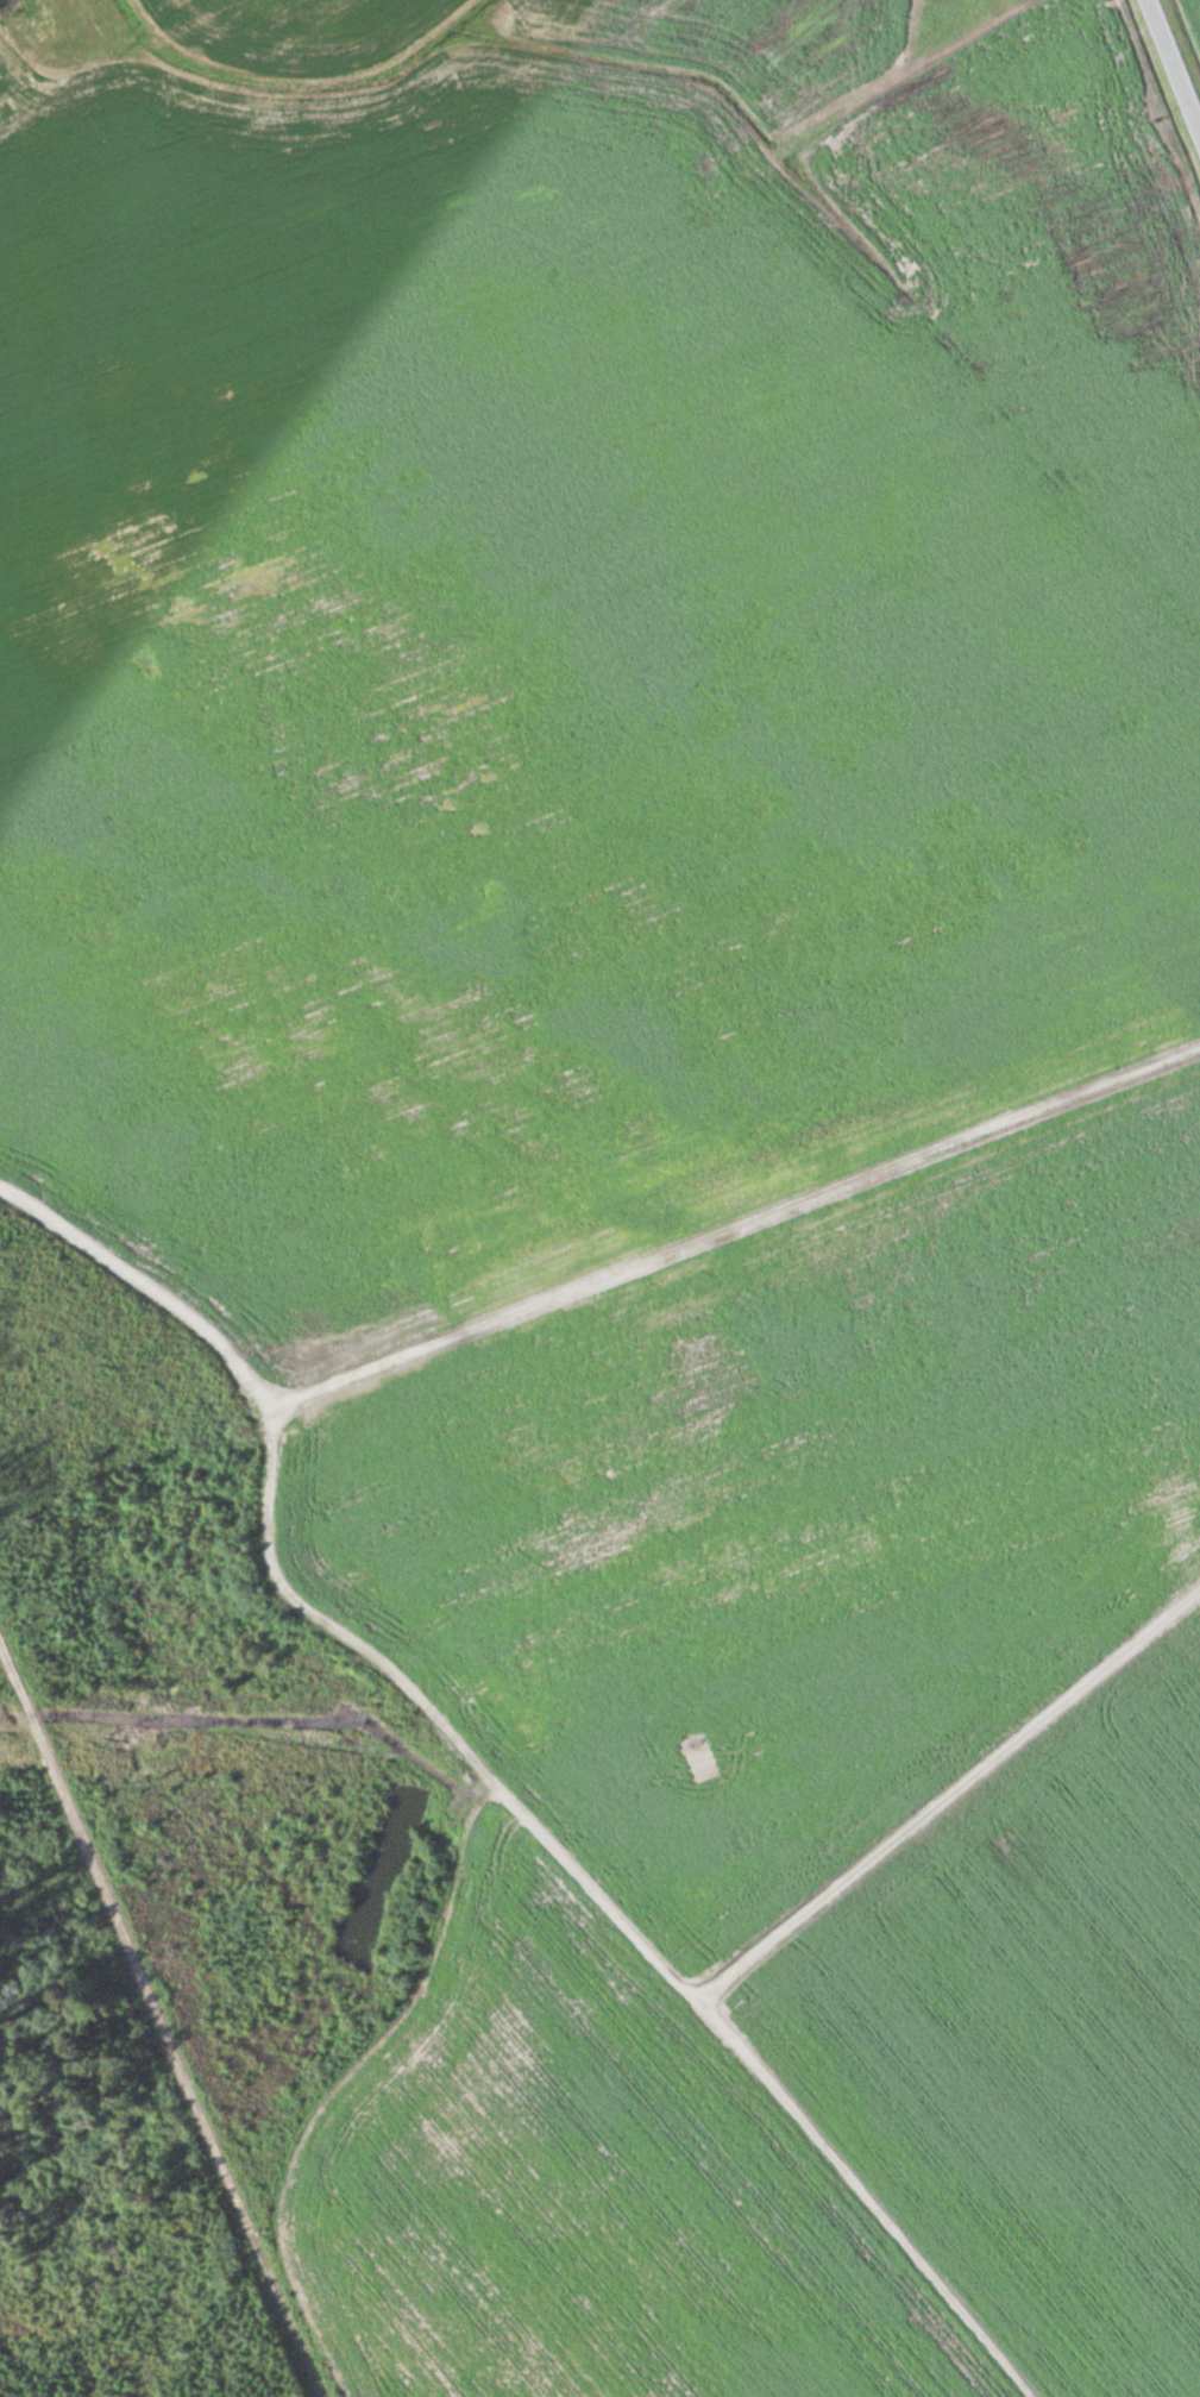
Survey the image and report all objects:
road: (1187, 30)
road: (59, 1614)
power tower: (137, 1733)
power tower: (698, 1744)

